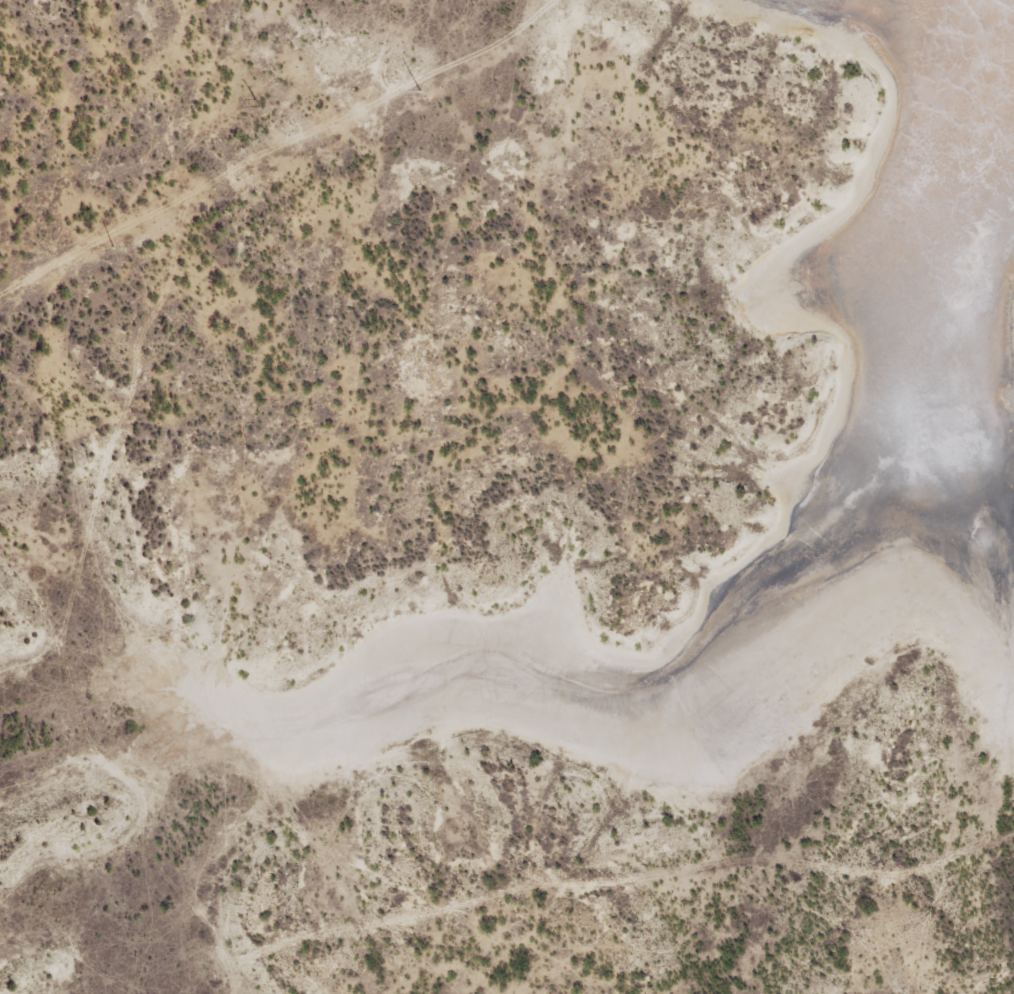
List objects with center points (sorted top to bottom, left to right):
power tower: (420, 88)
power tower: (259, 99)
power tower: (114, 244)

